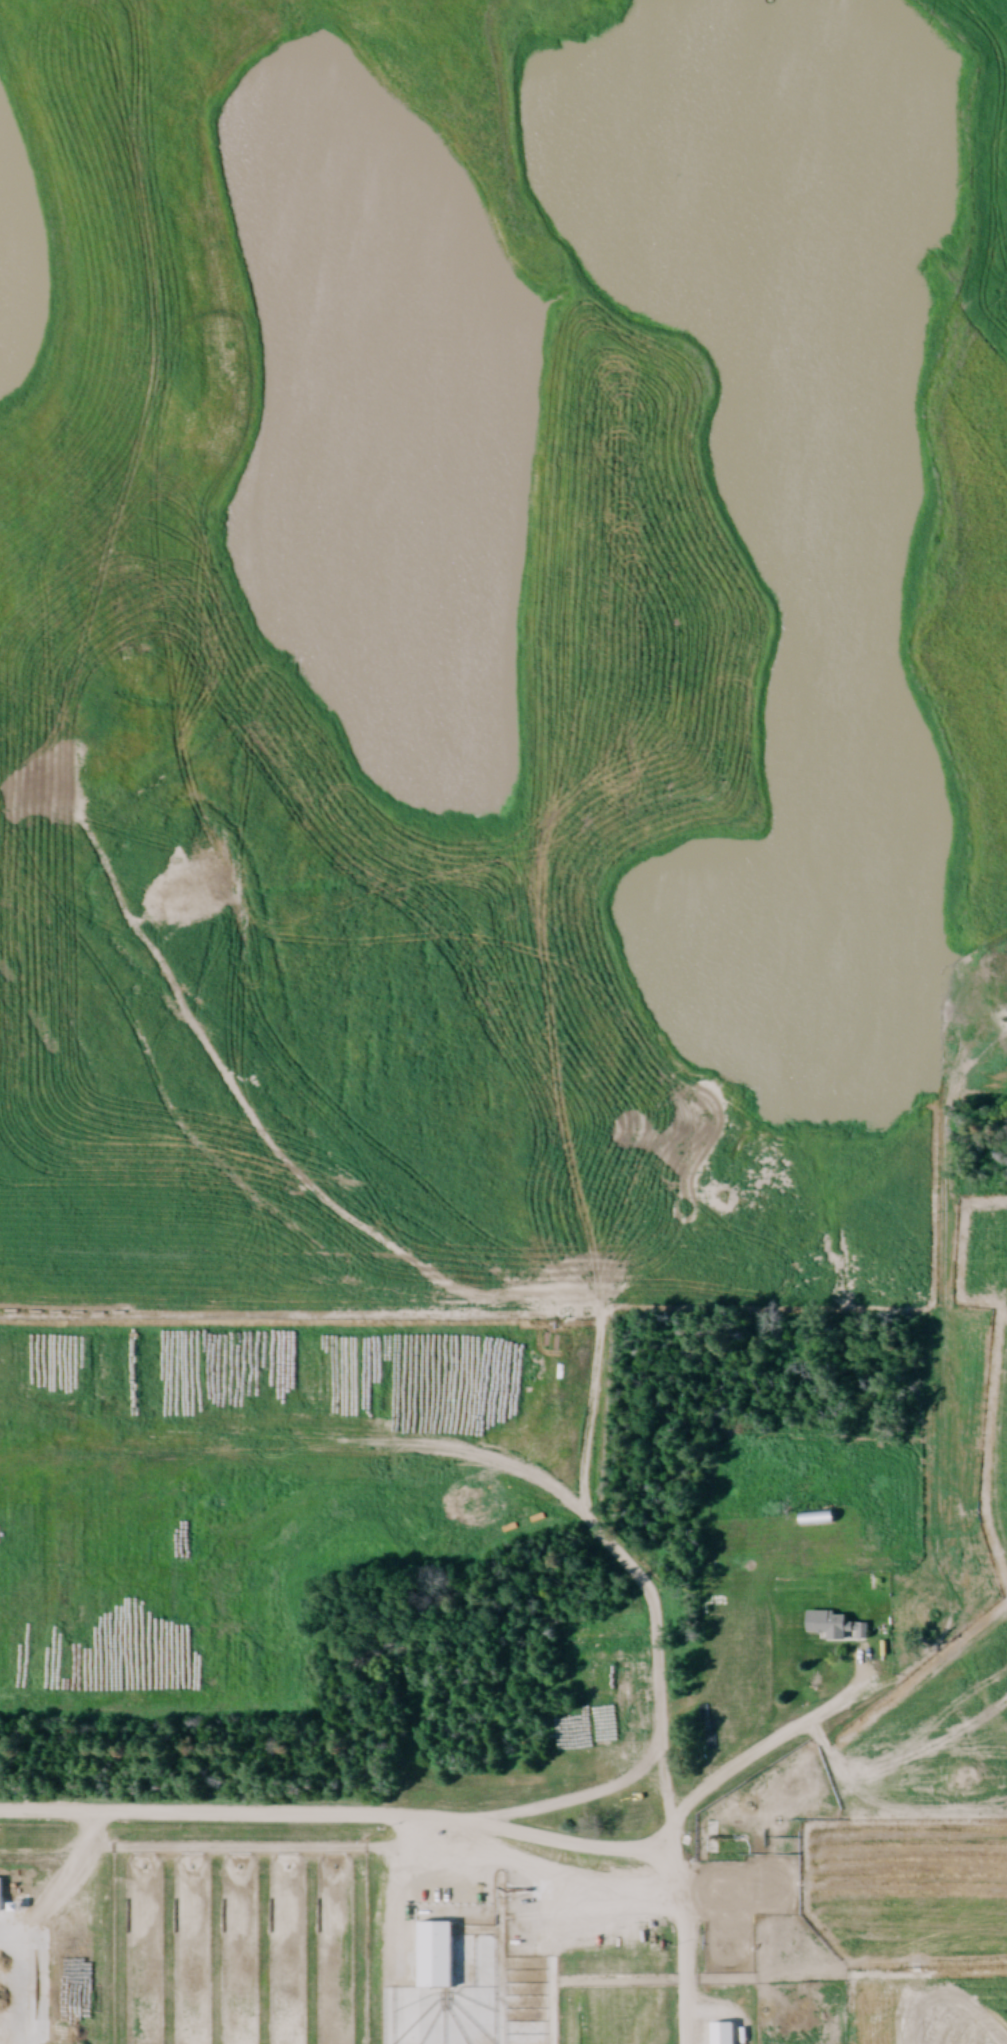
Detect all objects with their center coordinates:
building: (814, 1517)
building: (881, 1580)
building: (834, 1625)
road: (341, 1812)
building: (724, 1886)
building: (725, 2035)

